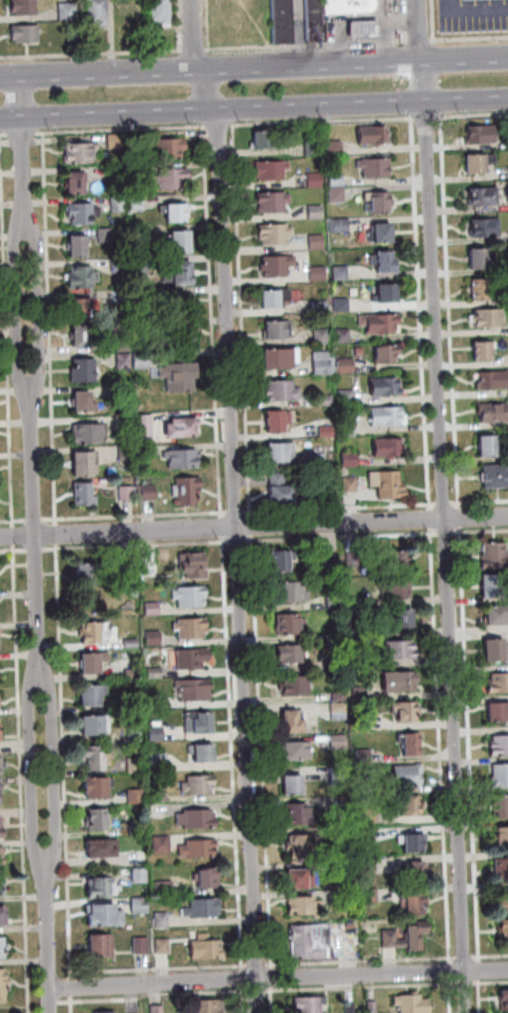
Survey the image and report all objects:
building: (22, 6)
building: (347, 6)
building: (65, 10)
building: (95, 12)
building: (158, 12)
parking lot: (474, 15)
building: (312, 20)
road: (404, 20)
road: (435, 20)
building: (280, 21)
road: (468, 22)
road: (178, 24)
road: (206, 24)
building: (365, 27)
building: (24, 33)
road: (469, 38)
road: (420, 41)
road: (307, 44)
road: (193, 49)
road: (90, 52)
street lamp: (8, 60)
road: (253, 67)
road: (467, 100)
road: (212, 108)
road: (472, 115)
road: (426, 117)
road: (325, 121)
road: (220, 125)
road: (122, 128)
building: (482, 133)
road: (24, 134)
road: (4, 135)
building: (376, 135)
building: (140, 138)
building: (268, 138)
building: (117, 141)
building: (172, 147)
building: (314, 147)
building: (337, 147)
road: (25, 149)
building: (82, 152)
building: (480, 162)
building: (378, 166)
building: (140, 169)
building: (273, 169)
building: (119, 174)
building: (173, 178)
building: (316, 179)
building: (339, 180)
building: (77, 181)
building: (339, 194)
building: (486, 196)
building: (140, 202)
building: (275, 202)
building: (382, 202)
building: (121, 203)
building: (318, 211)
building: (84, 212)
building: (178, 212)
building: (342, 224)
building: (487, 227)
building: (385, 231)
building: (277, 233)
building: (140, 234)
building: (107, 235)
building: (183, 240)
building: (319, 241)
building: (79, 244)
building: (480, 258)
building: (388, 261)
building: (121, 265)
building: (279, 265)
building: (185, 271)
building: (343, 272)
building: (320, 273)
building: (82, 276)
building: (481, 289)
building: (390, 292)
building: (144, 295)
building: (121, 296)
building: (277, 297)
building: (177, 301)
building: (343, 304)
road: (39, 306)
building: (322, 306)
road: (19, 307)
building: (80, 307)
road: (452, 312)
road: (422, 314)
building: (491, 317)
road: (245, 321)
road: (215, 322)
building: (383, 323)
building: (145, 324)
road: (52, 329)
building: (278, 329)
road: (10, 330)
building: (182, 331)
building: (80, 334)
building: (345, 335)
building: (323, 336)
building: (124, 343)
building: (484, 350)
building: (361, 351)
building: (389, 352)
building: (282, 357)
building: (126, 360)
building: (143, 360)
building: (325, 362)
building: (348, 365)
building: (85, 370)
building: (181, 376)
building: (493, 380)
building: (388, 386)
building: (124, 389)
building: (285, 390)
building: (348, 396)
building: (326, 400)
building: (86, 401)
building: (494, 411)
building: (390, 416)
building: (280, 420)
building: (125, 421)
building: (146, 426)
building: (184, 426)
building: (350, 429)
building: (328, 431)
building: (89, 433)
building: (491, 445)
building: (389, 447)
building: (283, 451)
building: (129, 452)
building: (145, 452)
building: (184, 457)
building: (351, 459)
building: (319, 460)
building: (84, 462)
building: (496, 475)
building: (351, 483)
building: (390, 483)
building: (283, 489)
building: (189, 490)
building: (151, 491)
building: (84, 493)
building: (129, 493)
road: (480, 502)
road: (237, 503)
road: (446, 503)
road: (446, 506)
road: (342, 507)
road: (238, 511)
road: (137, 516)
road: (36, 519)
road: (432, 519)
road: (14, 520)
road: (462, 520)
road: (253, 526)
road: (254, 526)
road: (225, 527)
road: (485, 531)
road: (452, 532)
road: (37, 534)
road: (59, 534)
road: (15, 535)
road: (344, 537)
road: (239, 541)
road: (139, 546)
road: (37, 549)
road: (14, 550)
building: (495, 555)
building: (355, 559)
building: (283, 560)
building: (333, 560)
building: (400, 561)
building: (196, 565)
building: (153, 567)
building: (131, 569)
building: (90, 572)
building: (493, 585)
building: (399, 588)
building: (135, 591)
building: (293, 592)
building: (191, 595)
building: (335, 601)
building: (154, 608)
building: (496, 614)
building: (404, 618)
building: (290, 623)
building: (193, 628)
building: (358, 630)
building: (92, 632)
building: (155, 637)
building: (132, 643)
building: (494, 648)
building: (398, 649)
building: (292, 653)
building: (193, 658)
building: (359, 659)
building: (94, 661)
building: (339, 665)
building: (156, 672)
building: (133, 674)
building: (401, 681)
building: (497, 681)
building: (297, 685)
building: (195, 689)
building: (362, 693)
building: (95, 694)
building: (341, 696)
building: (135, 701)
building: (0, 702)
building: (157, 702)
building: (340, 707)
building: (495, 709)
building: (408, 712)
building: (295, 721)
building: (202, 723)
building: (95, 725)
building: (364, 725)
building: (0, 732)
building: (158, 733)
building: (137, 734)
building: (341, 741)
building: (414, 744)
road: (472, 744)
building: (498, 744)
road: (442, 746)
building: (299, 751)
building: (204, 752)
road: (264, 753)
road: (235, 754)
building: (365, 756)
building: (98, 757)
road: (65, 762)
building: (161, 762)
building: (0, 765)
building: (136, 765)
road: (55, 770)
road: (34, 771)
building: (499, 774)
building: (342, 775)
building: (409, 775)
road: (23, 779)
building: (200, 784)
building: (294, 785)
building: (97, 787)
building: (365, 789)
building: (0, 795)
building: (137, 796)
building: (160, 796)
building: (344, 802)
building: (412, 805)
building: (499, 805)
building: (302, 813)
building: (371, 816)
building: (99, 819)
building: (199, 819)
building: (1, 828)
building: (139, 829)
building: (367, 834)
building: (346, 835)
building: (502, 837)
building: (415, 843)
building: (163, 845)
building: (303, 846)
building: (101, 848)
building: (199, 849)
building: (1, 857)
building: (141, 857)
building: (346, 866)
building: (502, 869)
building: (419, 871)
building: (141, 875)
building: (209, 877)
building: (300, 879)
building: (2, 886)
building: (102, 887)
building: (165, 888)
building: (371, 895)
building: (348, 896)
building: (507, 898)
building: (415, 904)
building: (141, 905)
building: (303, 906)
building: (204, 908)
building: (3, 915)
building: (106, 915)
building: (163, 920)
building: (503, 929)
building: (409, 936)
road: (50, 938)
building: (312, 941)
building: (103, 945)
building: (143, 946)
building: (164, 946)
building: (3, 947)
building: (207, 947)
road: (494, 956)
road: (470, 957)
road: (363, 961)
road: (259, 966)
road: (481, 967)
road: (161, 969)
road: (452, 971)
road: (279, 978)
road: (274, 979)
road: (246, 981)
road: (492, 982)
road: (468, 983)
building: (3, 985)
road: (414, 985)
road: (361, 988)
road: (311, 989)
road: (73, 990)
road: (264, 991)
road: (482, 995)
road: (159, 996)
road: (452, 996)
road: (274, 1000)
building: (504, 1000)
road: (246, 1002)
building: (311, 1004)
building: (413, 1004)
building: (208, 1006)
building: (352, 1007)
building: (373, 1007)
building: (158, 1009)
building: (107, 1012)

